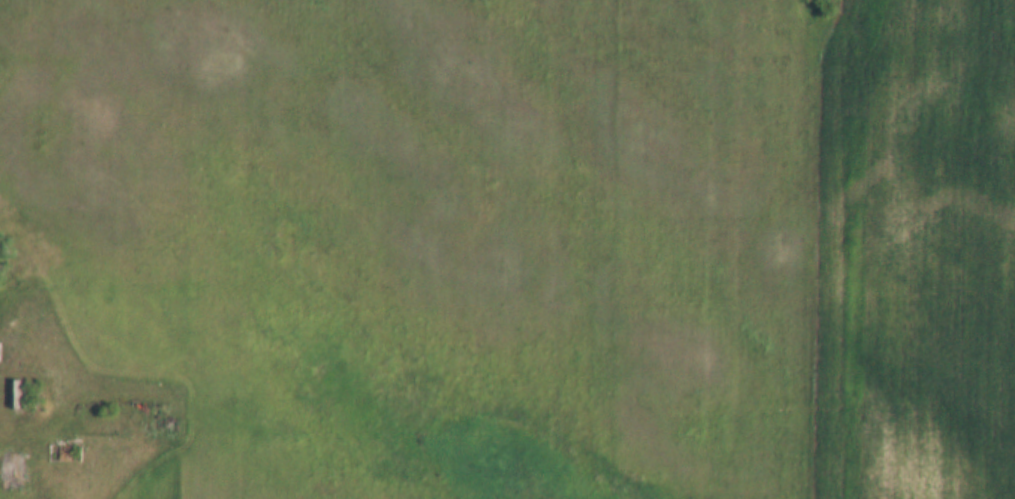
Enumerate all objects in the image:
road: (6, 366)
building: (15, 393)
building: (64, 450)

